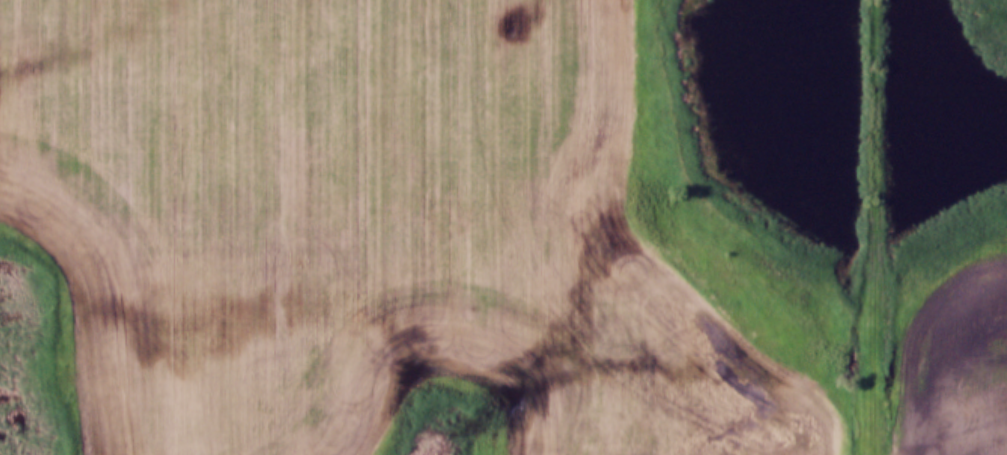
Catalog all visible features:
road: (876, 227)

